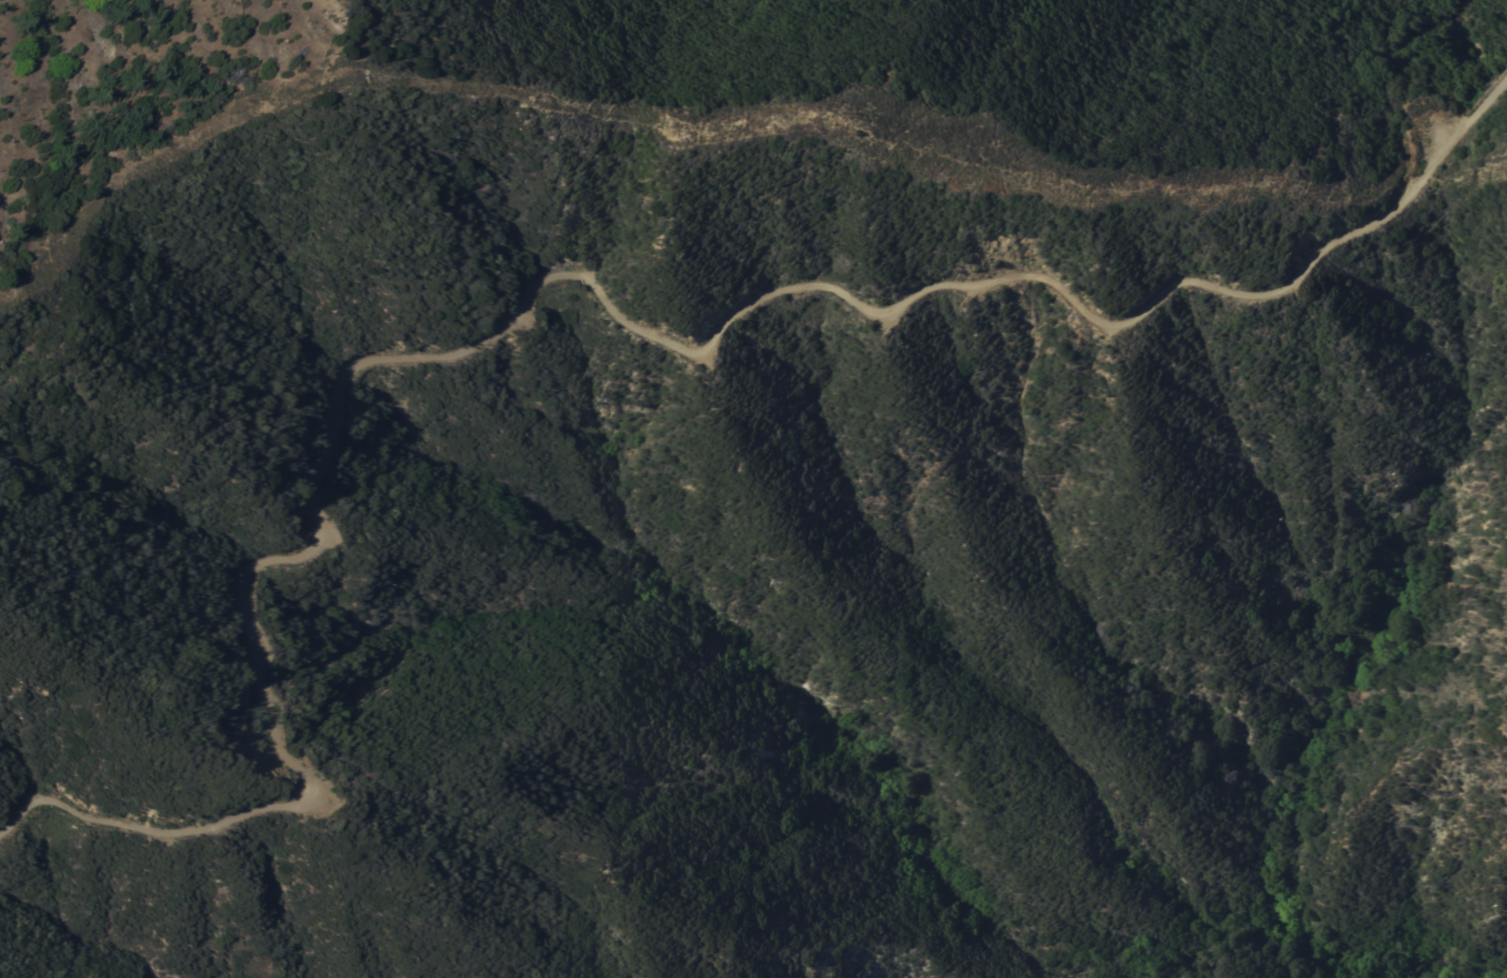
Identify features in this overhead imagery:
road: (1469, 119)
road: (683, 131)
road: (542, 283)

